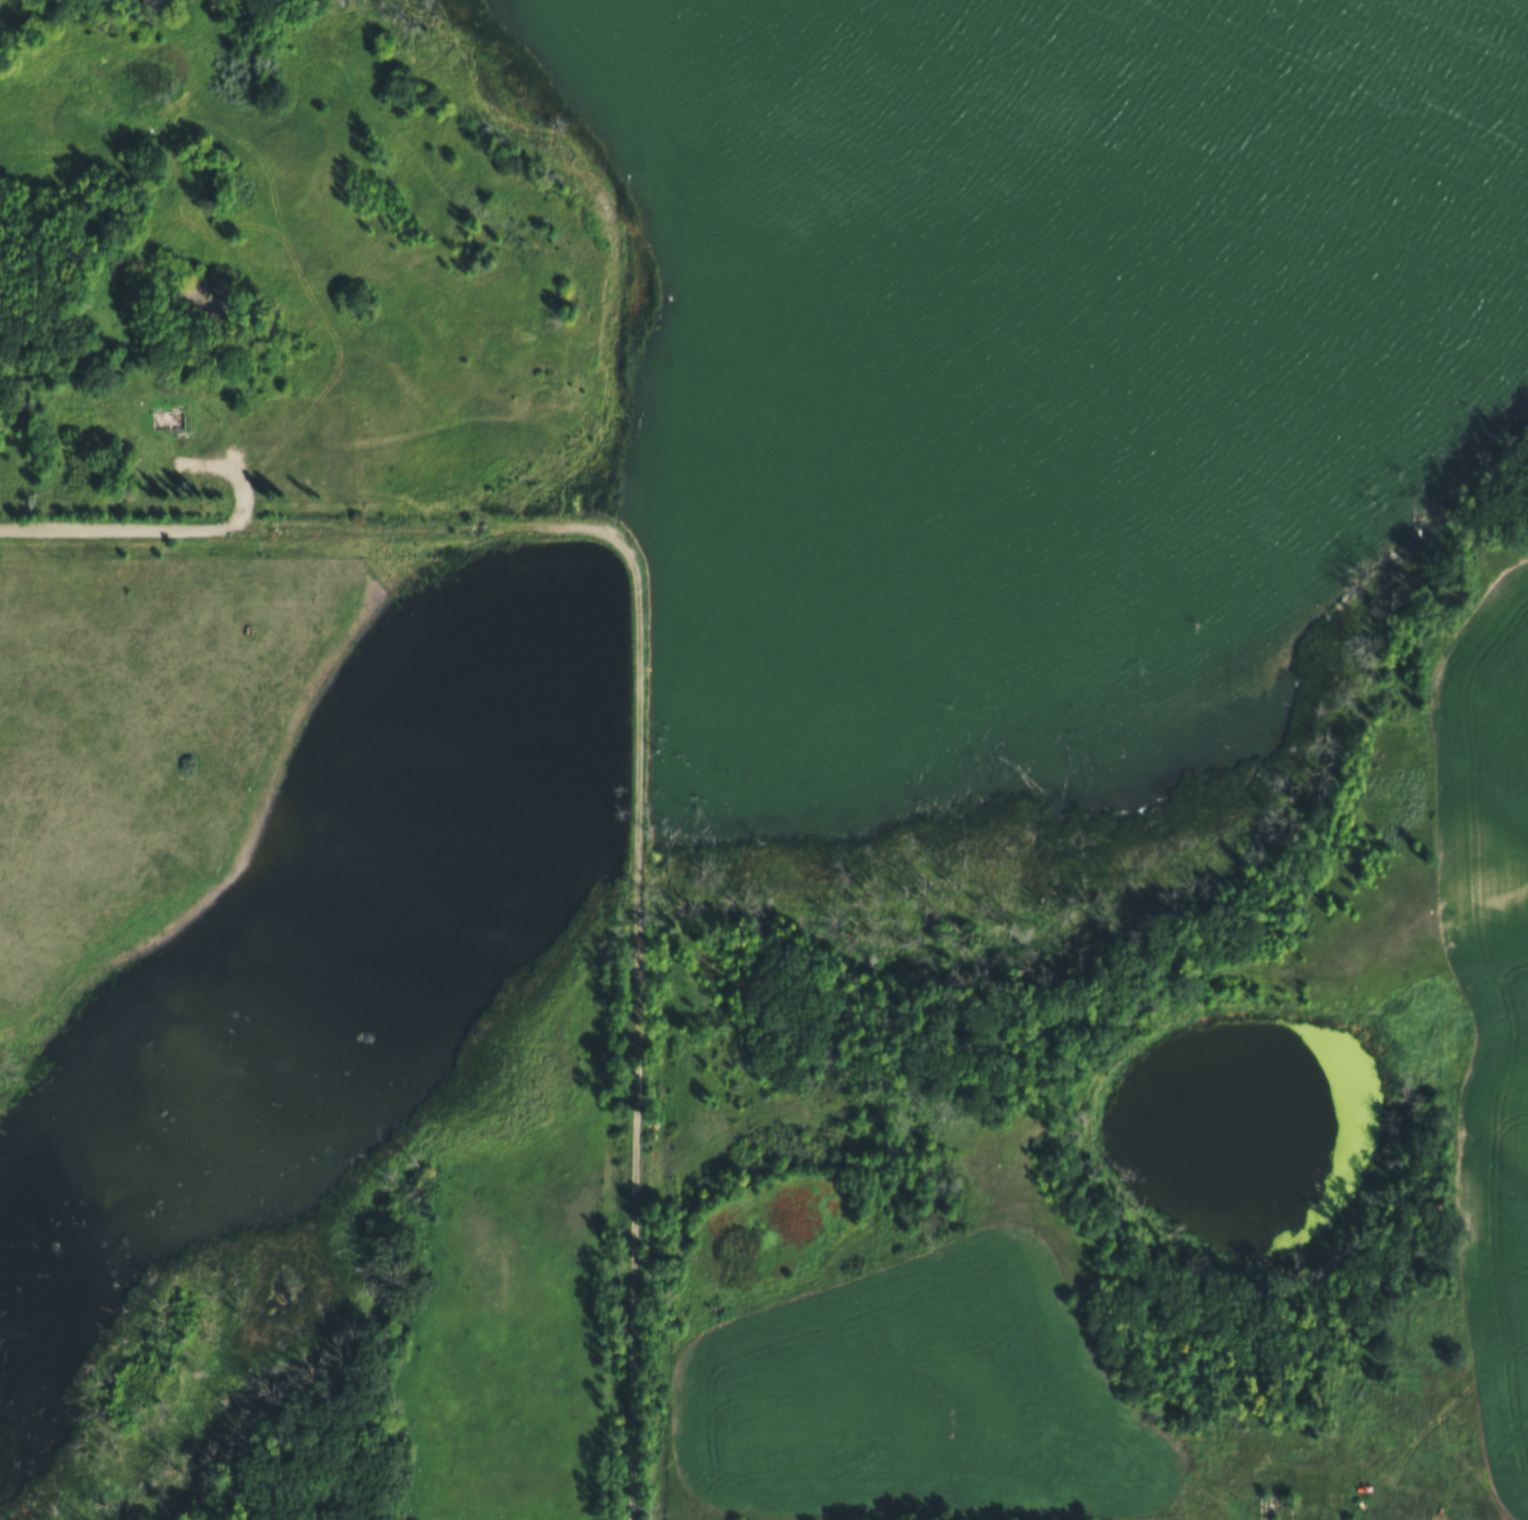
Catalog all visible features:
building: (161, 419)
road: (322, 527)
road: (641, 811)

